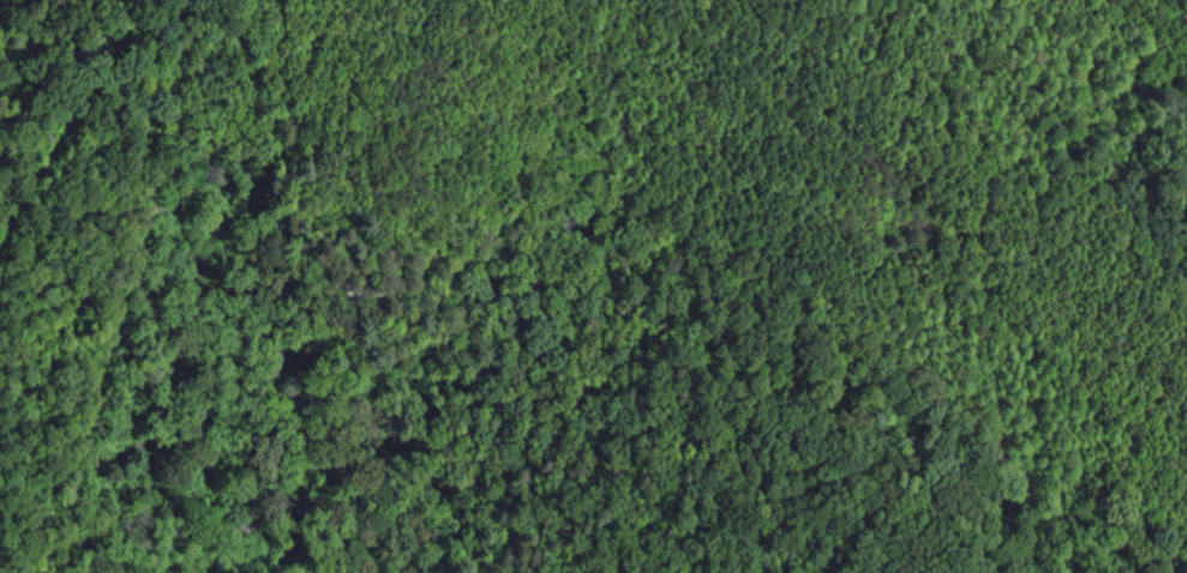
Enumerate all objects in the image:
road: (46, 62)

